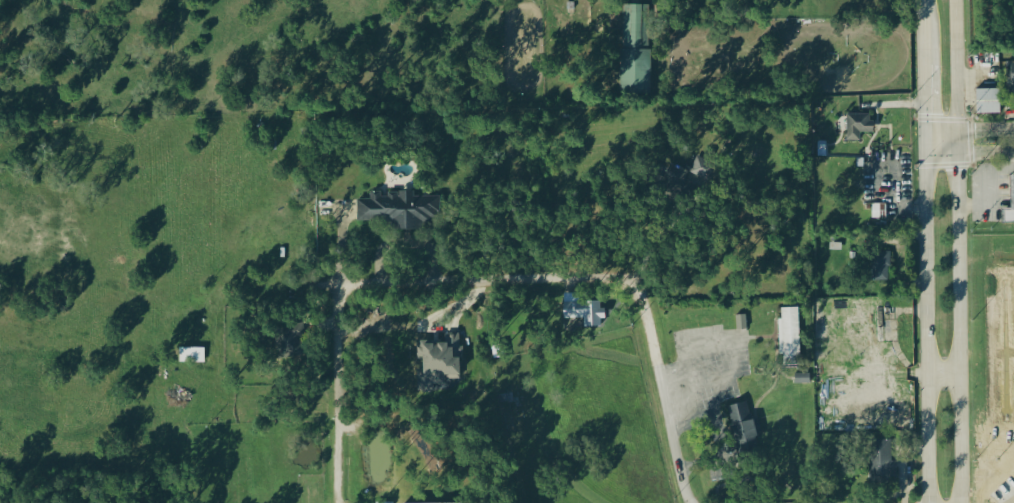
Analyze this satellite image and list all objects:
crop: (991, 24)
road: (921, 33)
building: (638, 50)
crop: (287, 55)
crop: (788, 58)
building: (1011, 77)
building: (991, 103)
road: (923, 104)
building: (861, 127)
road: (967, 129)
road: (968, 152)
building: (704, 174)
building: (1013, 185)
building: (399, 211)
building: (879, 213)
building: (1009, 217)
road: (957, 251)
road: (590, 277)
building: (586, 311)
road: (927, 322)
building: (742, 323)
building: (791, 337)
road: (944, 375)
road: (339, 394)
park: (514, 397)
building: (744, 426)
building: (884, 467)
road: (562, 468)

